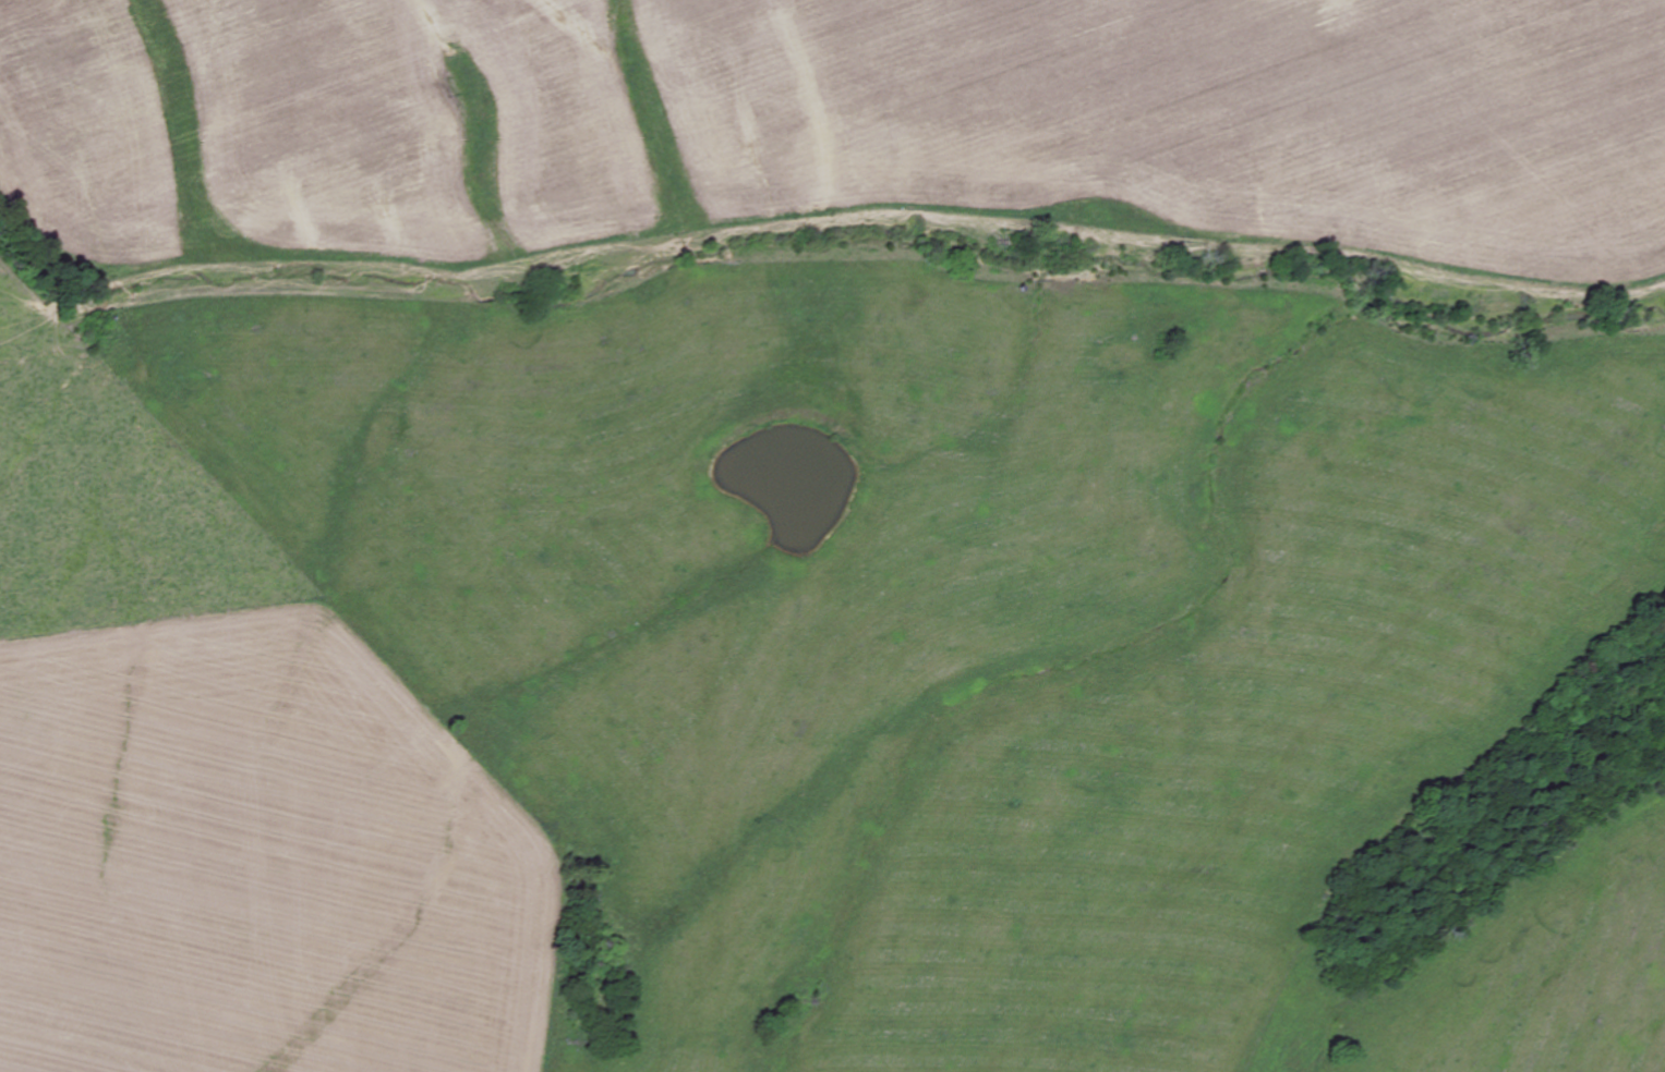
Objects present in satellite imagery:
road: (349, 144)

